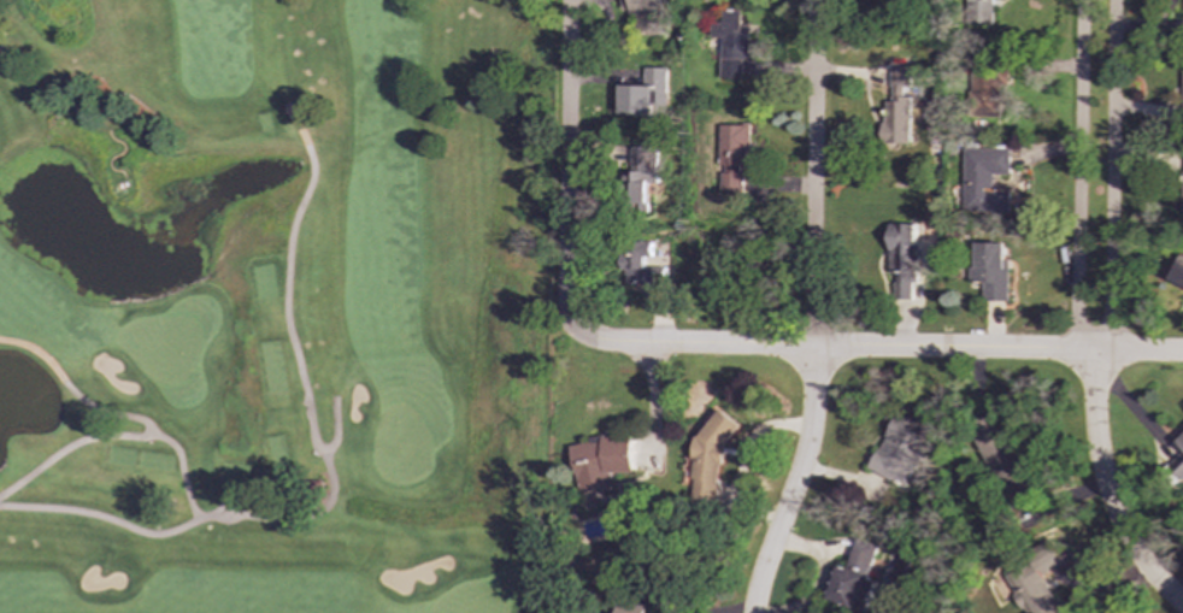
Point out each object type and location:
building: (979, 12)
building: (647, 14)
building: (731, 43)
building: (985, 88)
building: (643, 93)
building: (897, 105)
building: (731, 148)
road: (566, 163)
building: (641, 171)
road: (1111, 176)
building: (982, 177)
road: (1078, 177)
building: (730, 183)
building: (1182, 184)
building: (901, 259)
building: (990, 271)
building: (645, 273)
building: (1177, 275)
park: (276, 305)
road: (811, 311)
road: (284, 324)
road: (873, 348)
road: (71, 394)
road: (117, 436)
building: (1181, 442)
building: (902, 452)
building: (711, 456)
building: (602, 461)
building: (1178, 464)
road: (1106, 489)
road: (192, 520)
building: (857, 578)
building: (1036, 583)
building: (632, 609)

